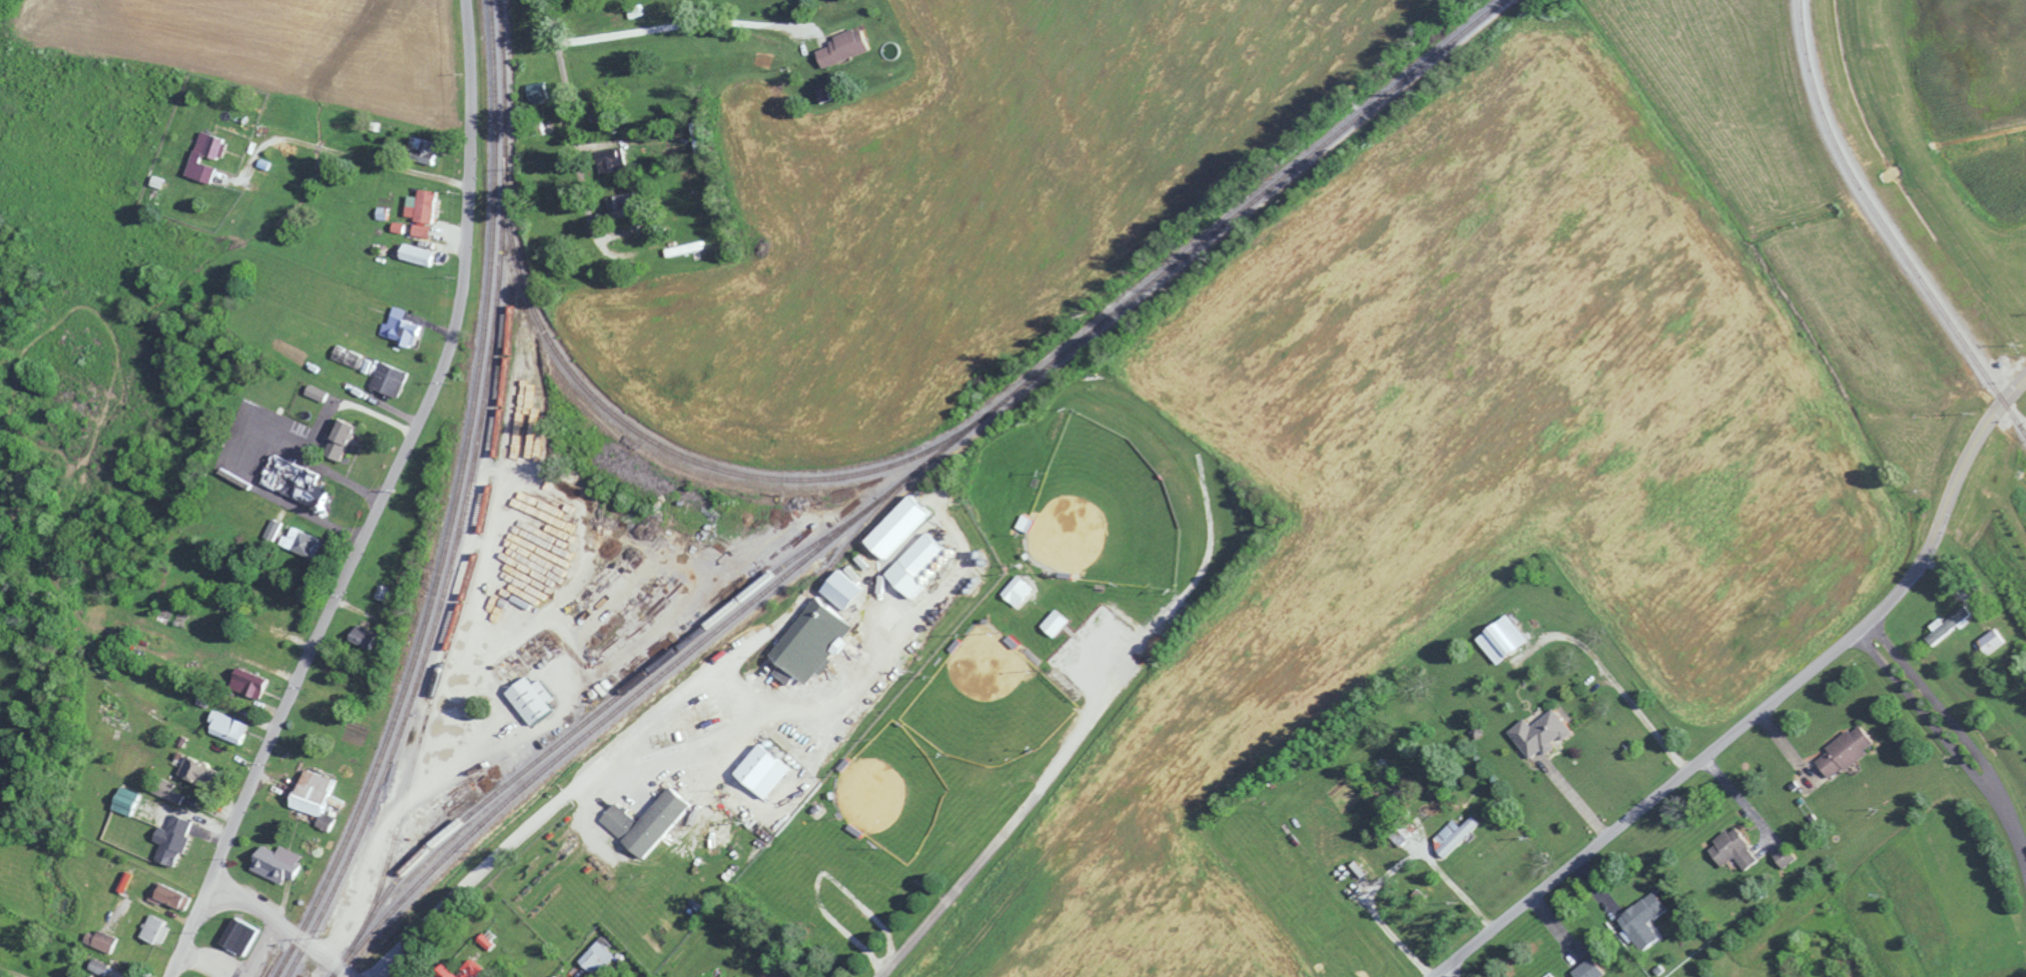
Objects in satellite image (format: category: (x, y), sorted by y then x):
road: (682, 24)
building: (847, 47)
building: (540, 91)
road: (568, 118)
building: (424, 144)
building: (201, 156)
road: (351, 156)
building: (633, 205)
building: (426, 212)
building: (693, 247)
building: (423, 254)
building: (403, 327)
building: (393, 378)
building: (319, 392)
building: (345, 438)
railway: (648, 441)
road: (238, 450)
railway: (919, 466)
building: (301, 482)
railway: (468, 499)
road: (377, 501)
railway: (452, 502)
building: (907, 526)
building: (277, 529)
building: (307, 543)
building: (923, 562)
building: (1022, 591)
building: (1060, 622)
building: (1945, 625)
building: (367, 637)
building: (1508, 640)
building: (817, 641)
building: (1989, 641)
road: (1618, 681)
building: (254, 683)
road: (857, 687)
building: (538, 700)
road: (1764, 706)
building: (232, 727)
building: (1545, 733)
road: (1950, 746)
road: (682, 750)
building: (1848, 751)
building: (770, 770)
building: (205, 773)
building: (317, 793)
road: (1578, 796)
road: (560, 797)
building: (131, 801)
building: (652, 822)
road: (1006, 831)
building: (1458, 835)
building: (178, 839)
building: (1736, 849)
building: (1790, 858)
building: (282, 864)
building: (128, 881)
building: (172, 895)
building: (1647, 920)
road: (282, 927)
building: (158, 929)
building: (244, 935)
building: (104, 941)
road: (259, 949)
building: (102, 966)
building: (475, 969)
building: (1593, 969)
road: (1447, 972)

